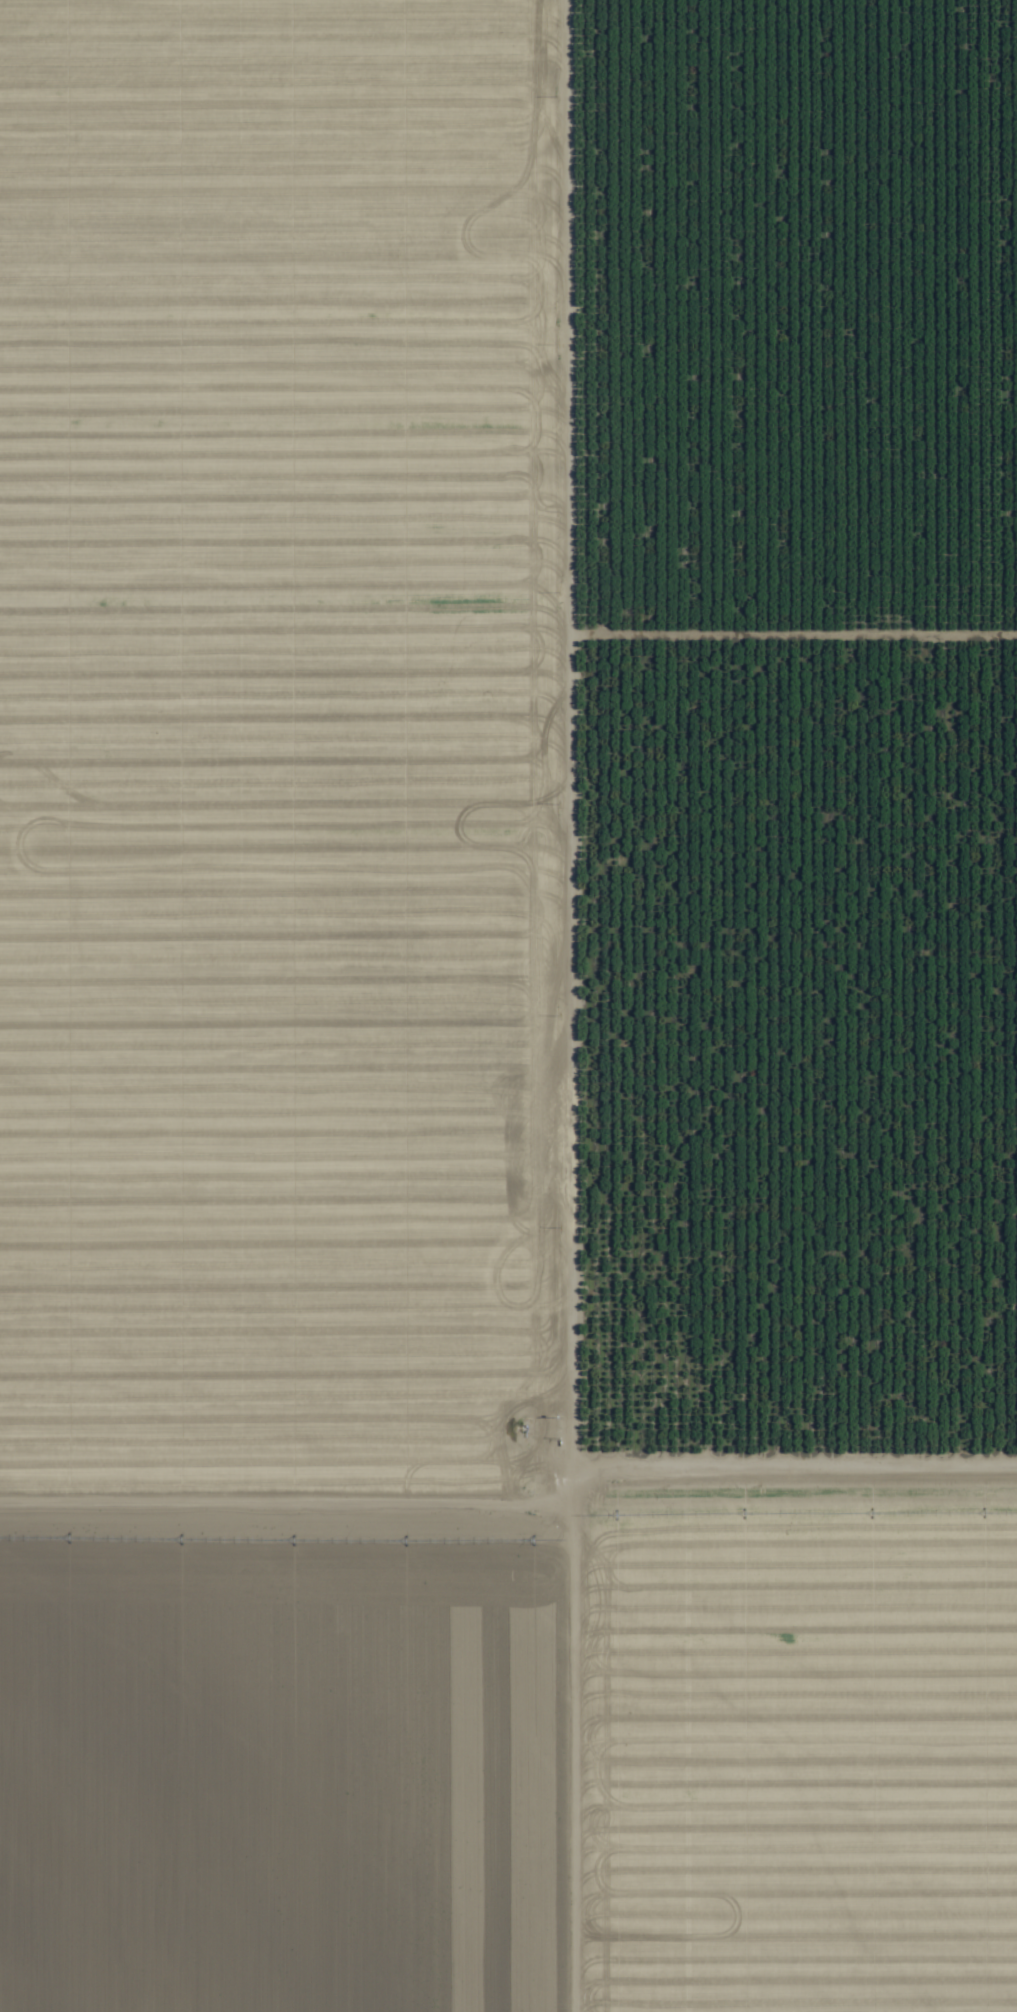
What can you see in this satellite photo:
crop: (508, 1006)
road: (539, 1006)
road: (778, 1439)

